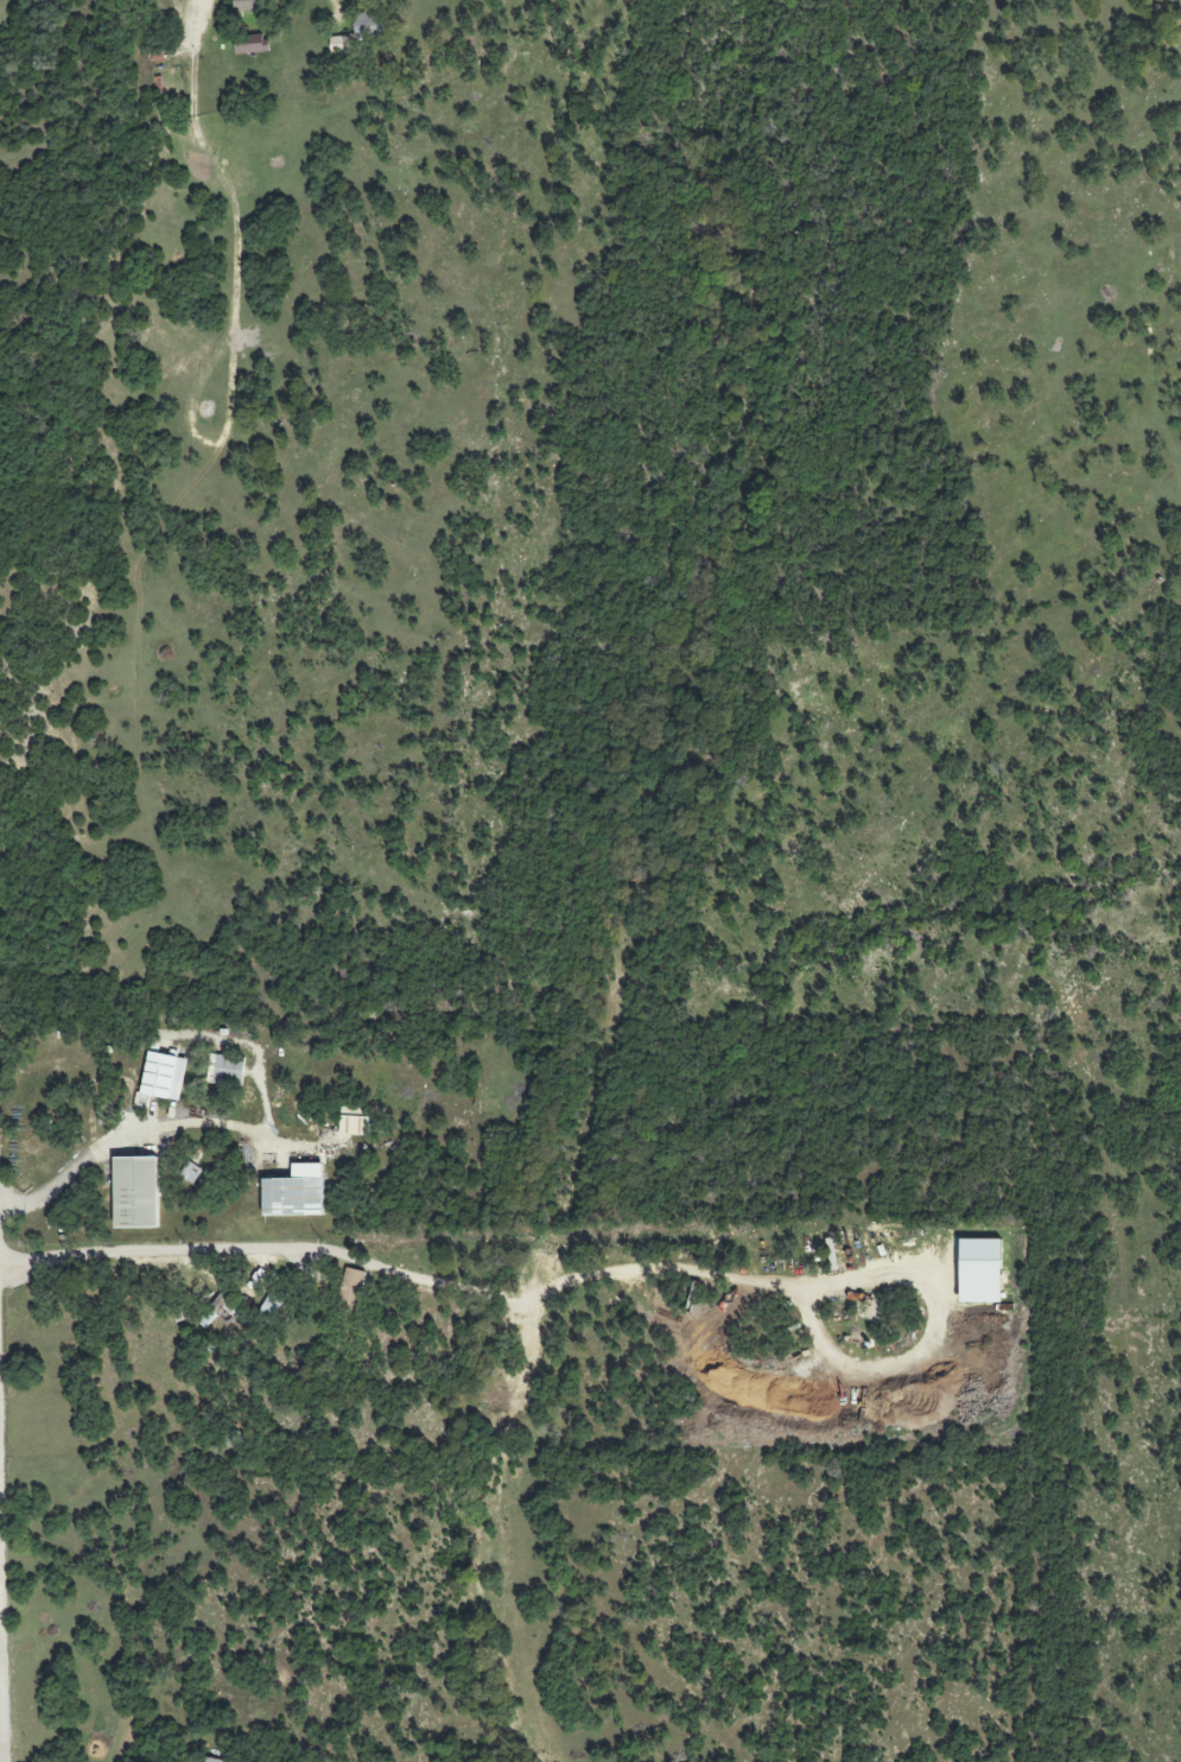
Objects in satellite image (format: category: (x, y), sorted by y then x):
building: (248, 5)
road: (202, 21)
building: (368, 25)
building: (250, 44)
building: (339, 44)
building: (211, 1069)
building: (229, 1070)
building: (163, 1078)
building: (355, 1126)
road: (166, 1127)
building: (190, 1172)
building: (136, 1192)
building: (296, 1192)
road: (406, 1274)
building: (353, 1288)
building: (220, 1312)
road: (931, 1339)
road: (2, 1677)
building: (212, 1760)

